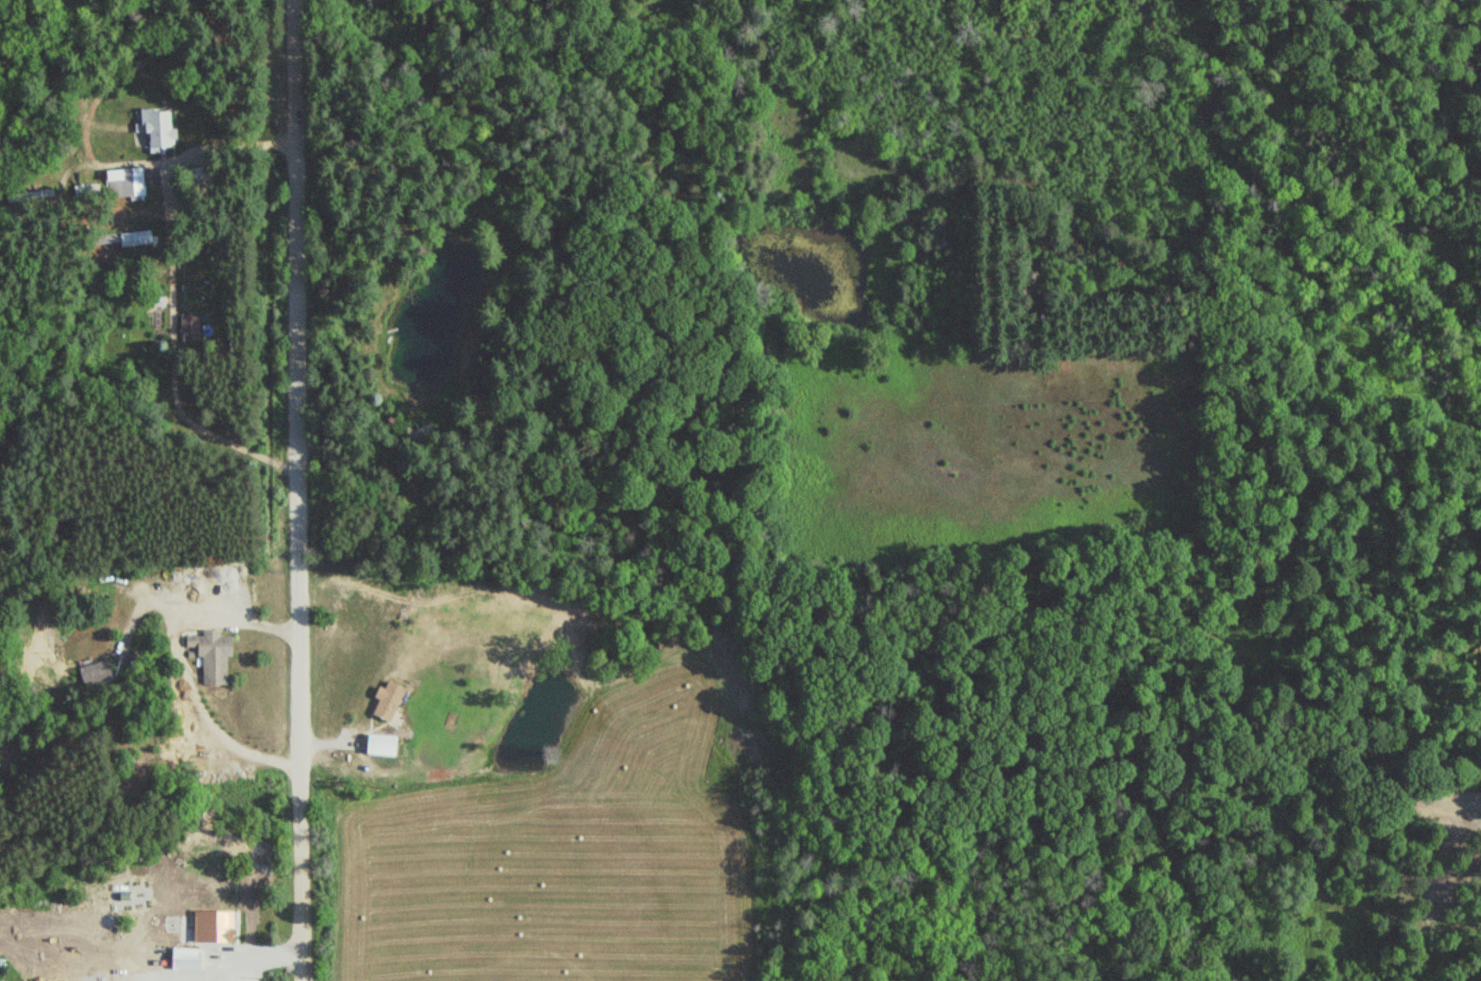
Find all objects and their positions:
building: (163, 124)
building: (137, 185)
building: (141, 238)
building: (192, 327)
road: (167, 364)
road: (297, 490)
building: (214, 653)
building: (395, 701)
road: (339, 738)
building: (225, 925)
building: (191, 959)

